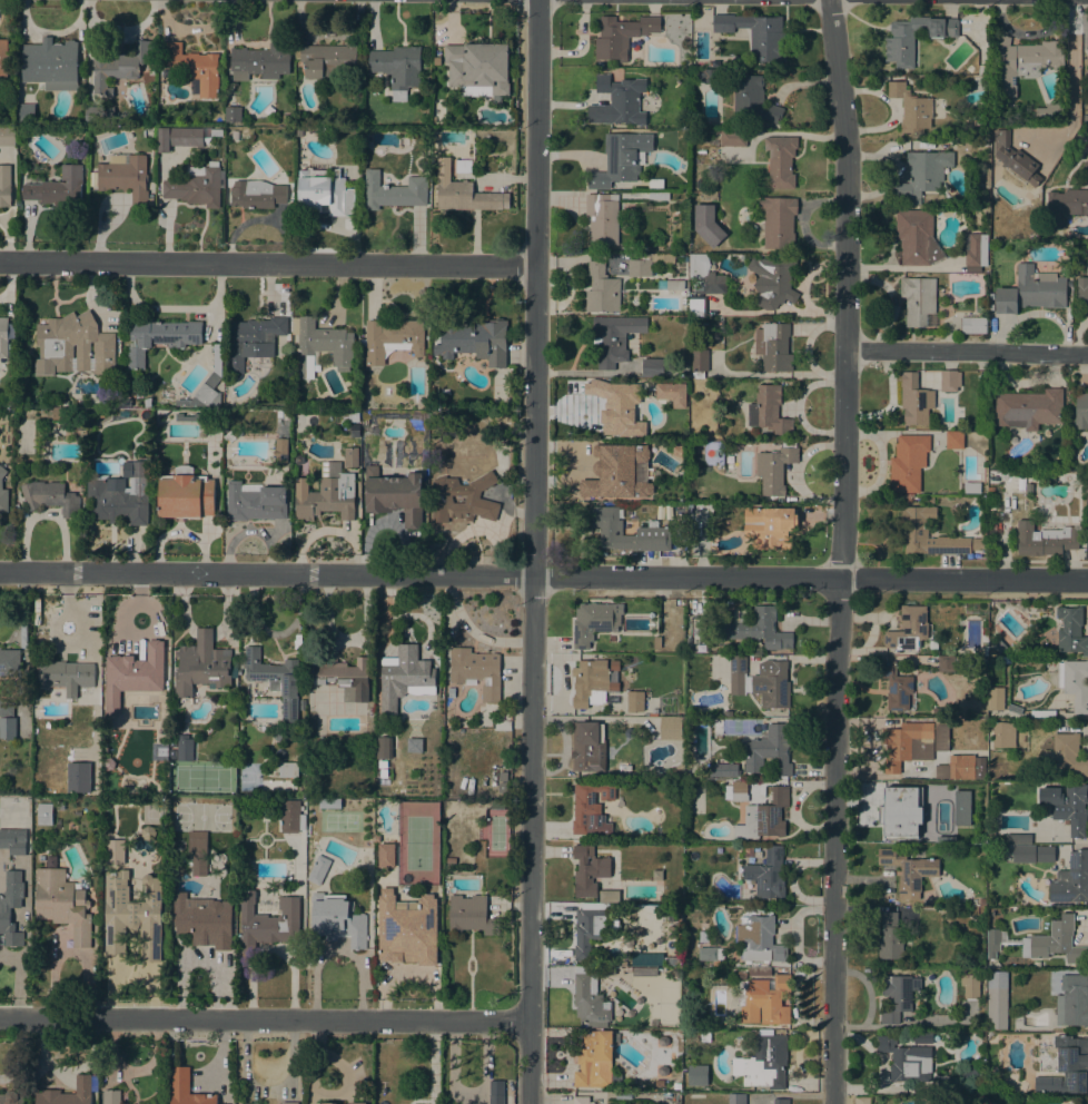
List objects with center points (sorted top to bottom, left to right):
road: (1031, 32)
building: (756, 34)
building: (621, 36)
building: (899, 42)
building: (3, 58)
building: (328, 60)
building: (436, 60)
building: (259, 61)
building: (1021, 62)
building: (50, 63)
building: (118, 66)
building: (192, 67)
building: (397, 68)
building: (478, 69)
building: (708, 75)
road: (1072, 89)
building: (752, 100)
building: (617, 101)
building: (911, 108)
building: (1050, 111)
building: (24, 114)
building: (92, 114)
building: (233, 114)
building: (996, 114)
building: (285, 117)
building: (981, 117)
building: (216, 132)
building: (298, 132)
building: (235, 135)
building: (8, 136)
building: (178, 137)
building: (733, 138)
building: (620, 158)
building: (780, 161)
building: (1013, 161)
building: (463, 166)
building: (1086, 172)
building: (922, 174)
building: (125, 176)
building: (655, 184)
building: (4, 186)
building: (197, 186)
building: (57, 187)
building: (324, 191)
building: (394, 191)
building: (464, 193)
building: (256, 194)
building: (659, 196)
building: (1067, 205)
building: (602, 217)
building: (778, 221)
building: (706, 225)
building: (917, 238)
building: (975, 252)
building: (645, 262)
road: (267, 264)
building: (704, 276)
building: (773, 280)
building: (675, 285)
building: (601, 289)
building: (940, 290)
building: (1031, 290)
building: (1082, 293)
building: (919, 300)
building: (696, 306)
building: (972, 325)
building: (3, 337)
building: (159, 337)
building: (614, 337)
building: (392, 339)
building: (251, 341)
building: (473, 341)
building: (76, 344)
building: (322, 345)
building: (773, 346)
road: (966, 352)
building: (699, 362)
building: (651, 367)
road: (1079, 368)
building: (949, 381)
building: (207, 385)
building: (672, 394)
building: (914, 400)
building: (148, 403)
building: (616, 406)
building: (1028, 408)
building: (768, 411)
building: (1081, 411)
building: (352, 416)
building: (187, 417)
building: (77, 425)
building: (354, 431)
building: (953, 440)
building: (280, 444)
building: (349, 456)
building: (908, 463)
building: (774, 469)
building: (619, 471)
building: (971, 487)
building: (2, 493)
building: (120, 494)
building: (185, 494)
building: (325, 494)
building: (394, 495)
building: (908, 495)
building: (444, 496)
building: (50, 497)
building: (908, 500)
building: (927, 501)
building: (255, 502)
building: (956, 506)
building: (770, 526)
building: (917, 530)
building: (653, 531)
building: (1045, 539)
building: (979, 540)
road: (531, 551)
road: (841, 551)
road: (543, 578)
building: (1028, 607)
building: (594, 621)
building: (756, 628)
building: (908, 629)
building: (1070, 630)
building: (656, 642)
building: (998, 645)
building: (720, 650)
building: (734, 650)
building: (991, 652)
building: (1005, 660)
building: (10, 662)
building: (946, 663)
building: (202, 664)
building: (136, 671)
building: (476, 671)
building: (65, 676)
building: (404, 677)
building: (344, 678)
building: (275, 680)
building: (760, 682)
building: (1074, 682)
building: (588, 683)
building: (896, 686)
building: (451, 692)
building: (995, 699)
building: (634, 701)
building: (7, 707)
building: (1013, 708)
building: (726, 713)
building: (1042, 714)
building: (7, 728)
building: (670, 728)
building: (1003, 735)
building: (278, 736)
building: (941, 738)
building: (172, 742)
building: (904, 745)
building: (587, 747)
building: (184, 748)
building: (383, 748)
building: (768, 750)
building: (172, 753)
building: (1066, 753)
building: (956, 767)
building: (979, 767)
building: (287, 769)
building: (724, 770)
building: (736, 791)
building: (329, 802)
building: (1067, 806)
building: (960, 807)
building: (591, 809)
building: (901, 811)
building: (43, 814)
building: (764, 816)
building: (291, 818)
building: (990, 835)
building: (1017, 838)
building: (12, 840)
building: (112, 851)
building: (746, 851)
building: (1022, 852)
building: (1045, 854)
building: (384, 855)
building: (197, 856)
building: (908, 868)
building: (318, 870)
building: (587, 870)
building: (768, 874)
building: (1071, 879)
building: (928, 896)
building: (61, 901)
building: (594, 905)
building: (10, 906)
building: (132, 915)
building: (469, 915)
building: (336, 918)
building: (202, 920)
building: (266, 924)
building: (407, 928)
building: (588, 930)
building: (890, 937)
building: (759, 940)
building: (1041, 942)
building: (710, 954)
building: (646, 959)
building: (671, 960)
building: (1037, 964)
building: (643, 972)
building: (740, 972)
building: (759, 972)
building: (969, 986)
building: (898, 996)
building: (764, 999)
building: (587, 1000)
building: (997, 1000)
building: (1072, 1002)
road: (264, 1019)
building: (595, 1059)
building: (906, 1059)
building: (766, 1062)
building: (1067, 1066)
building: (970, 1072)
building: (698, 1075)
building: (942, 1084)
building: (676, 1086)
building: (186, 1088)
building: (495, 1092)
building: (67, 1093)
building: (110, 1096)
building: (11, 1097)
building: (736, 1098)
building: (581, 1100)
building: (781, 1101)
building: (249, 1103)
building: (288, 1103)
building: (343, 1103)

